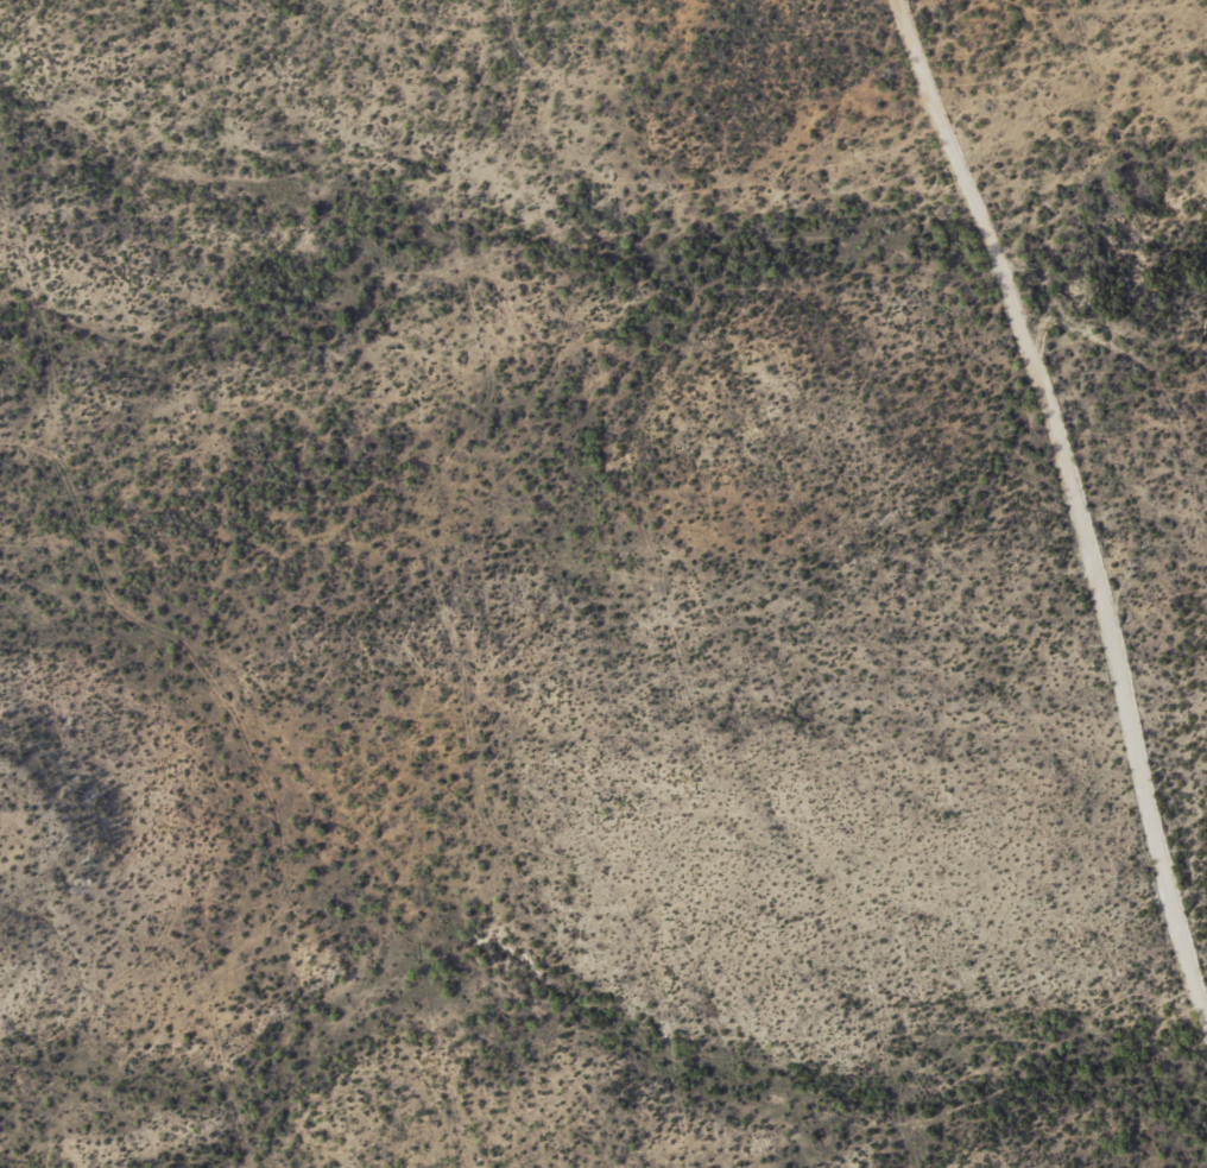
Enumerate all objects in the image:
road: (1047, 465)

